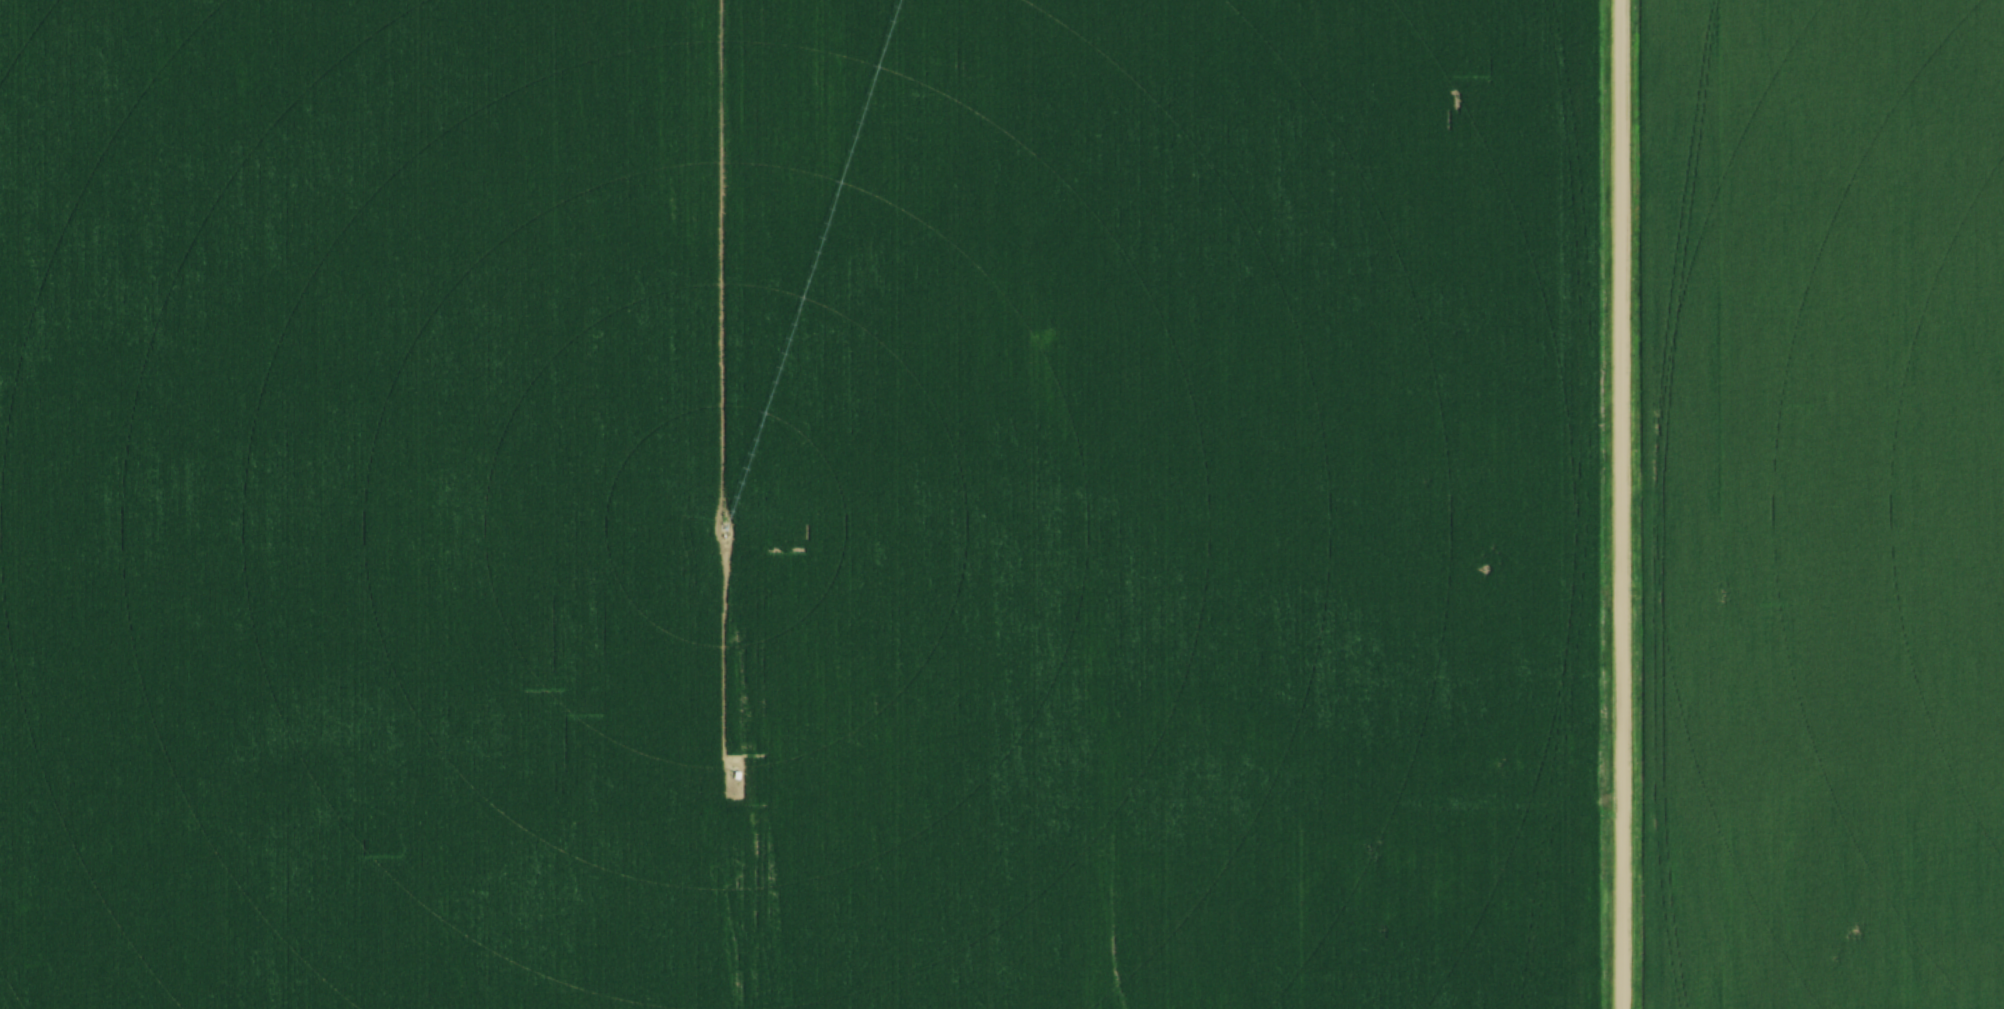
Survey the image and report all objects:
road: (1623, 504)

